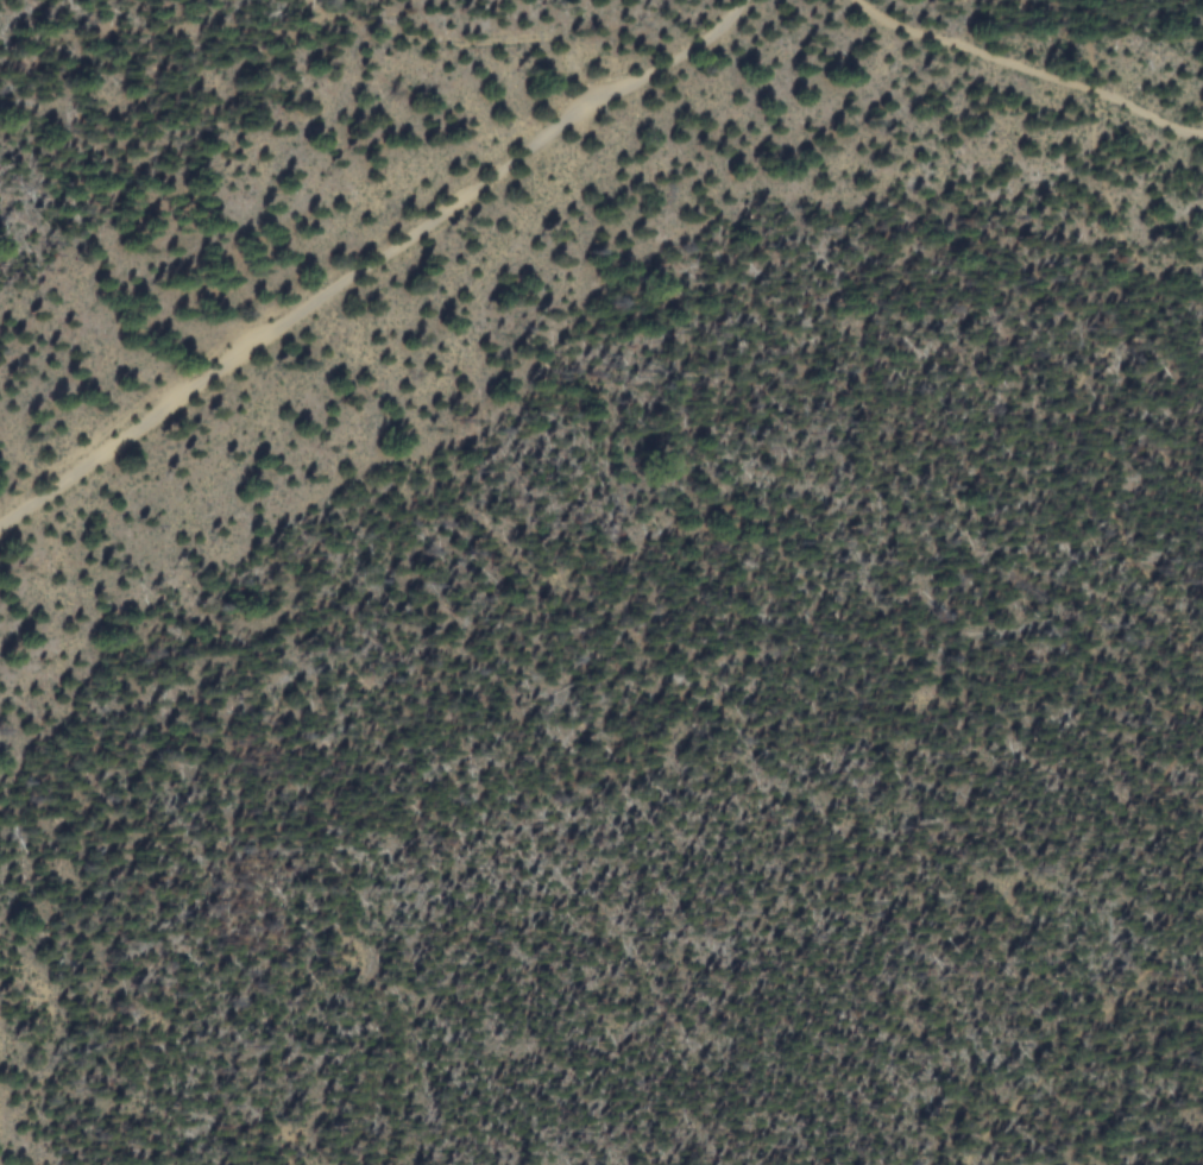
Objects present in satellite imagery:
road: (1033, 65)
road: (376, 267)
road: (1166, 594)

